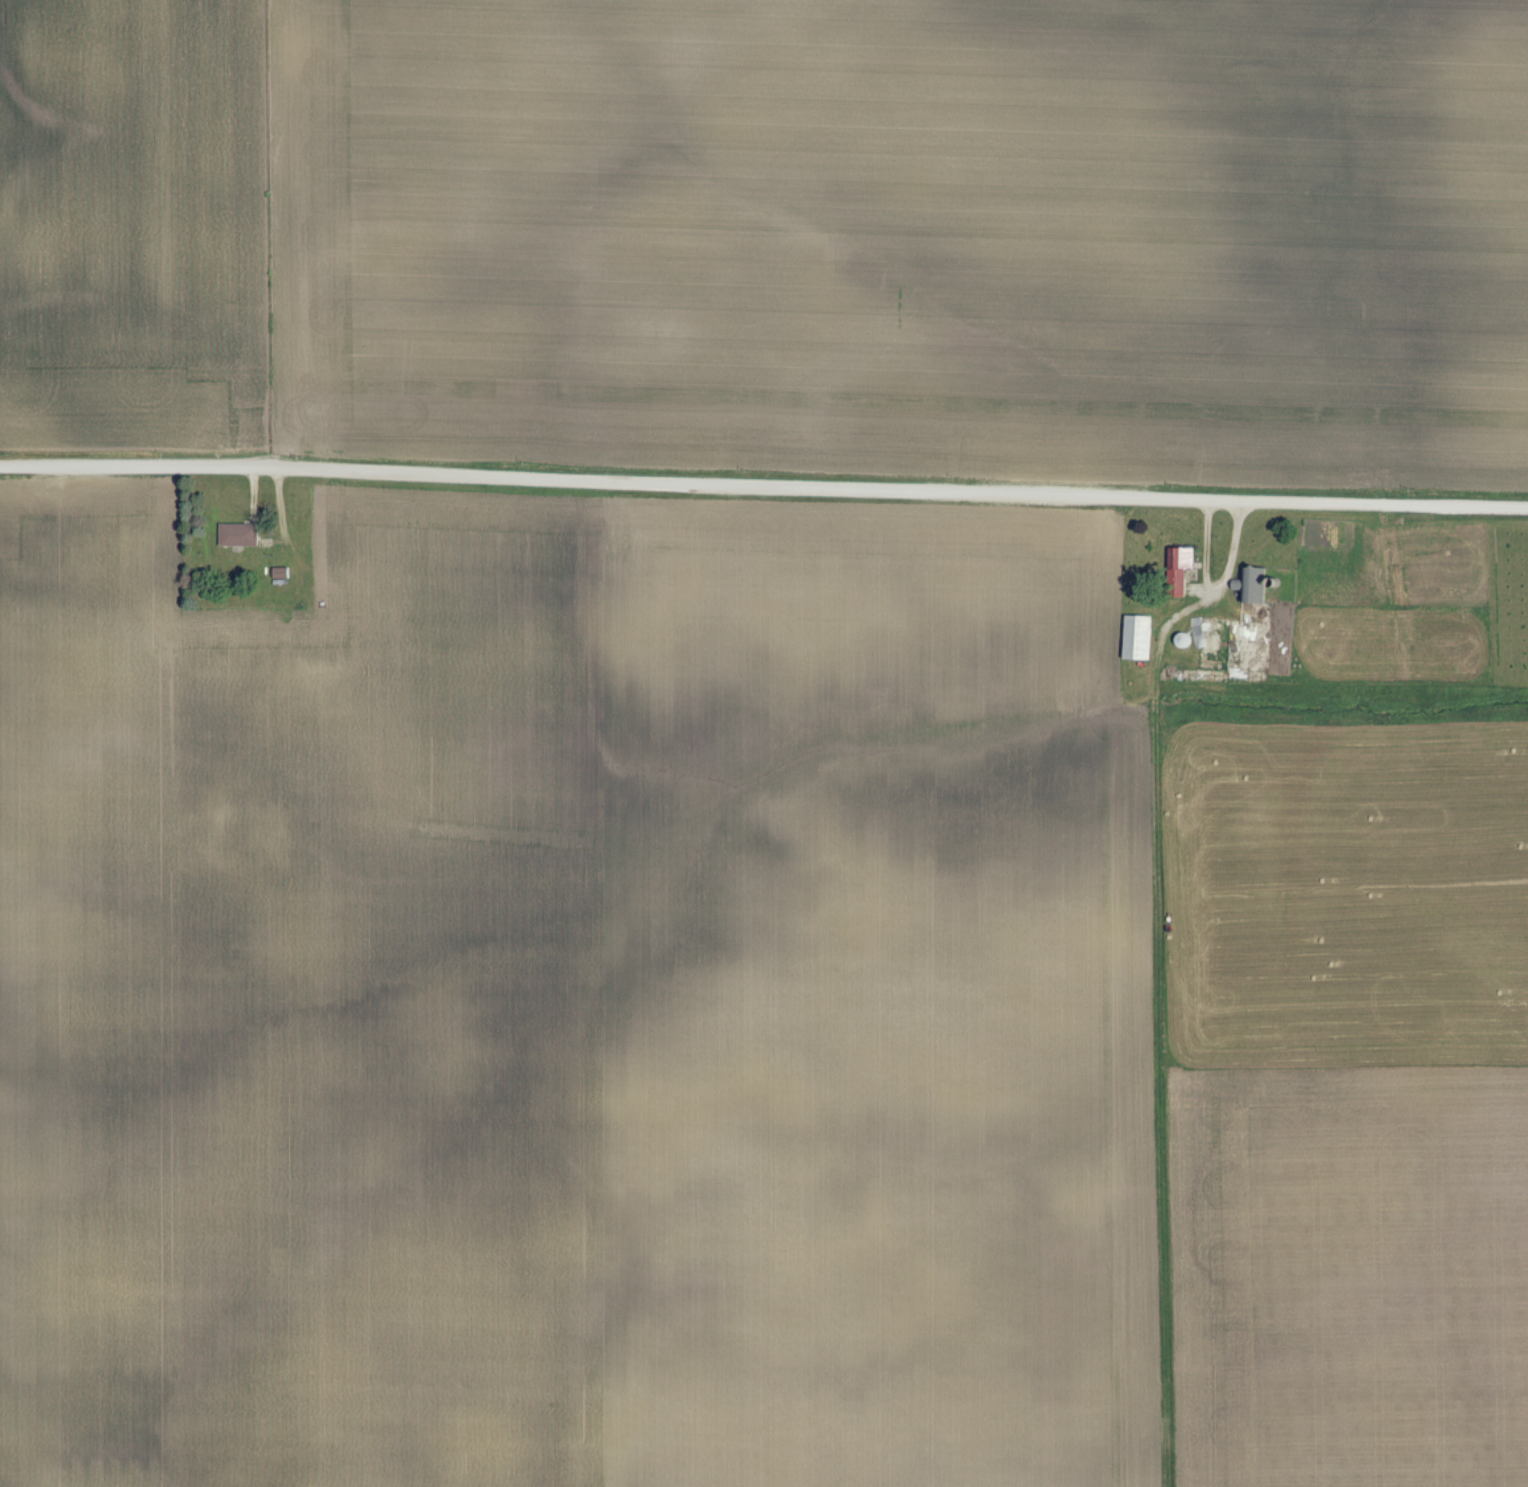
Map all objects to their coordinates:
road: (764, 484)
building: (242, 536)
building: (1186, 558)
road: (1217, 590)
building: (1141, 638)
building: (1209, 642)

